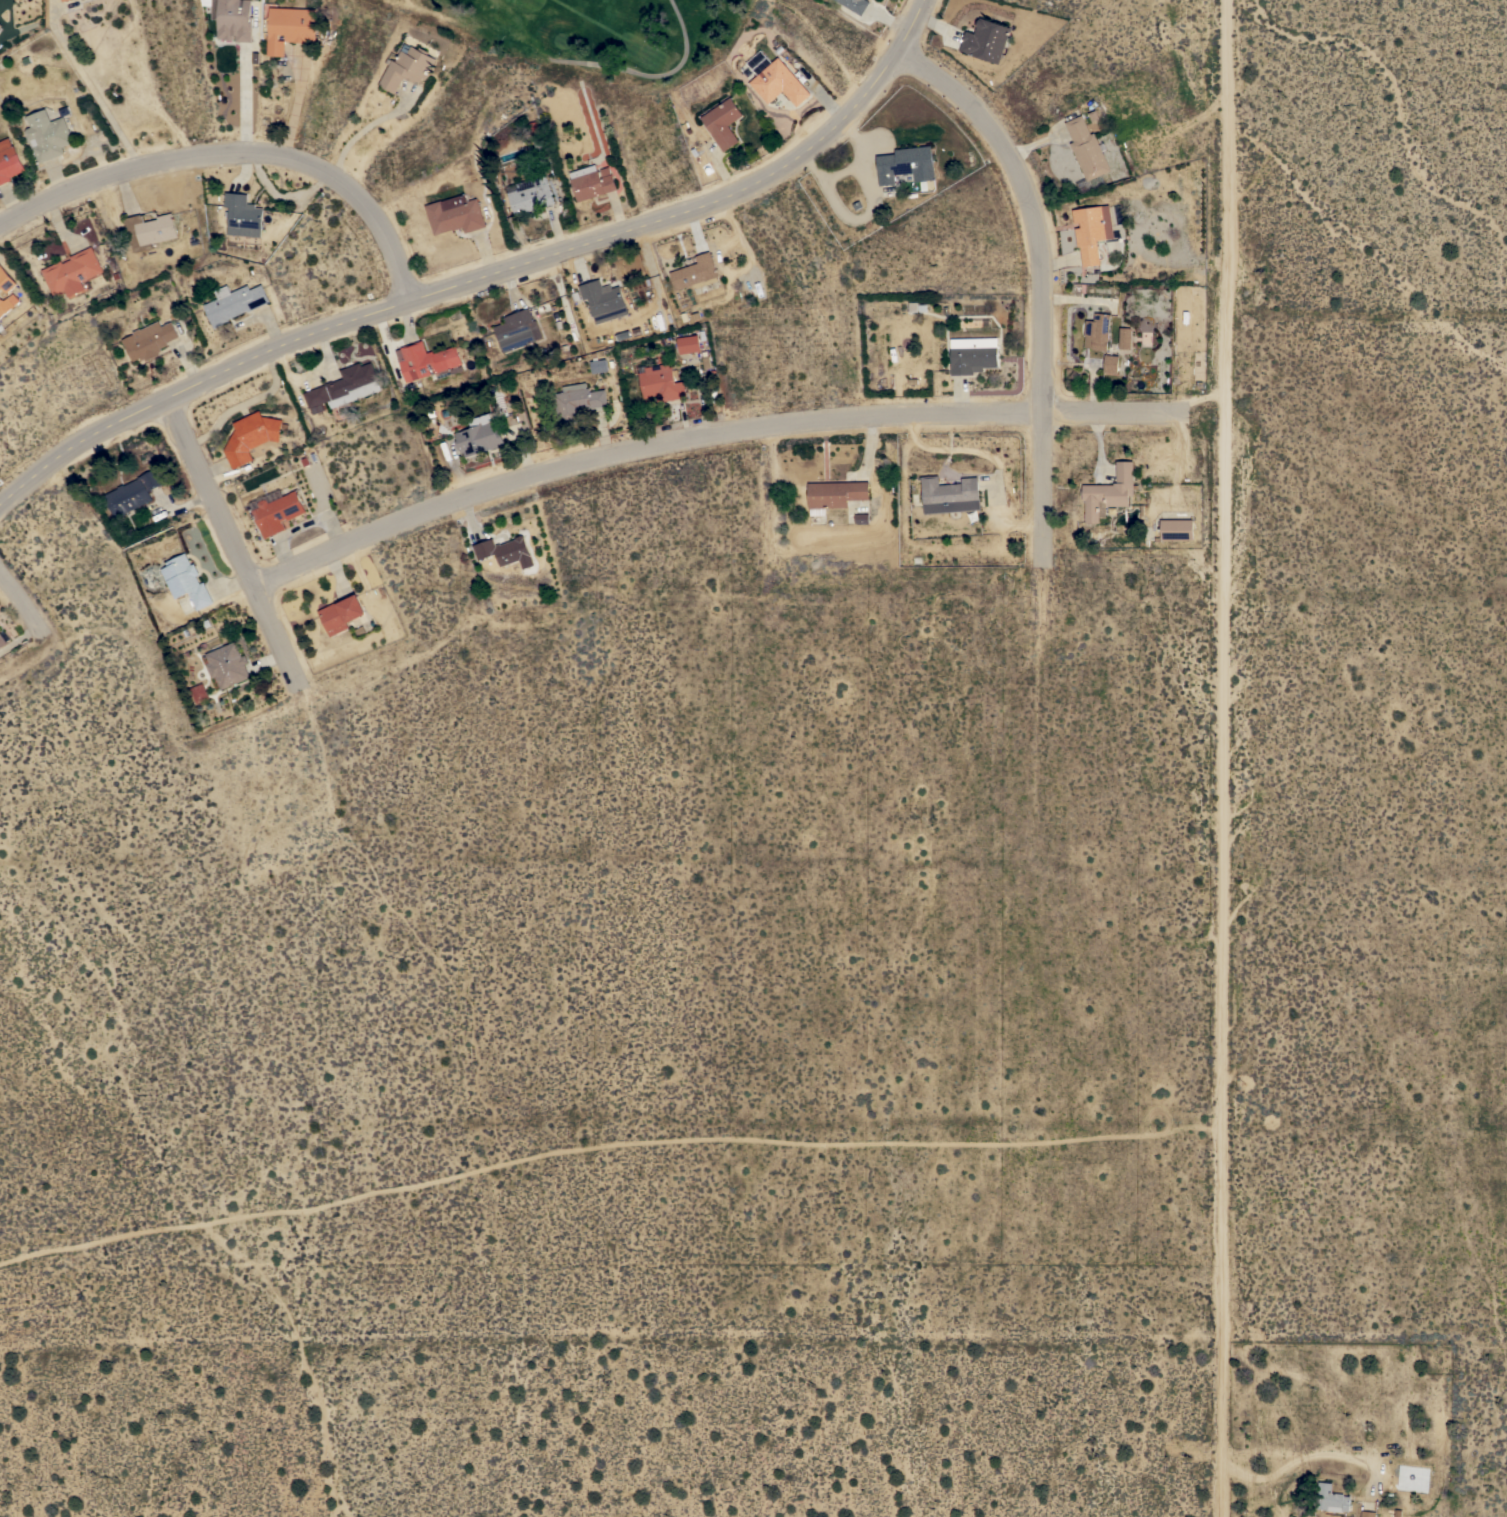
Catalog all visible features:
building: (59, 0)
building: (63, 0)
building: (855, 5)
building: (232, 18)
building: (0, 25)
building: (290, 27)
park: (621, 28)
building: (986, 40)
building: (407, 66)
building: (779, 83)
road: (91, 88)
road: (245, 101)
road: (296, 104)
building: (723, 123)
building: (47, 135)
road: (360, 135)
building: (1086, 148)
road: (235, 153)
building: (9, 161)
building: (906, 164)
building: (592, 181)
building: (530, 195)
building: (455, 214)
building: (243, 215)
building: (150, 230)
building: (1092, 230)
building: (72, 272)
building: (695, 272)
road: (484, 274)
road: (1042, 276)
building: (6, 280)
building: (604, 300)
building: (234, 302)
building: (8, 304)
building: (517, 330)
building: (1097, 331)
building: (1124, 338)
building: (149, 340)
building: (689, 344)
building: (972, 355)
building: (427, 361)
building: (1110, 363)
building: (598, 364)
building: (660, 383)
building: (344, 387)
building: (576, 401)
road: (706, 434)
building: (251, 436)
building: (479, 436)
building: (949, 491)
building: (1109, 492)
building: (132, 493)
building: (835, 494)
building: (277, 512)
building: (861, 517)
building: (1176, 529)
road: (234, 542)
building: (505, 551)
building: (186, 581)
road: (17, 601)
building: (340, 614)
building: (2, 640)
building: (227, 664)
road: (1223, 758)
building: (1330, 1498)
building: (1367, 1514)

